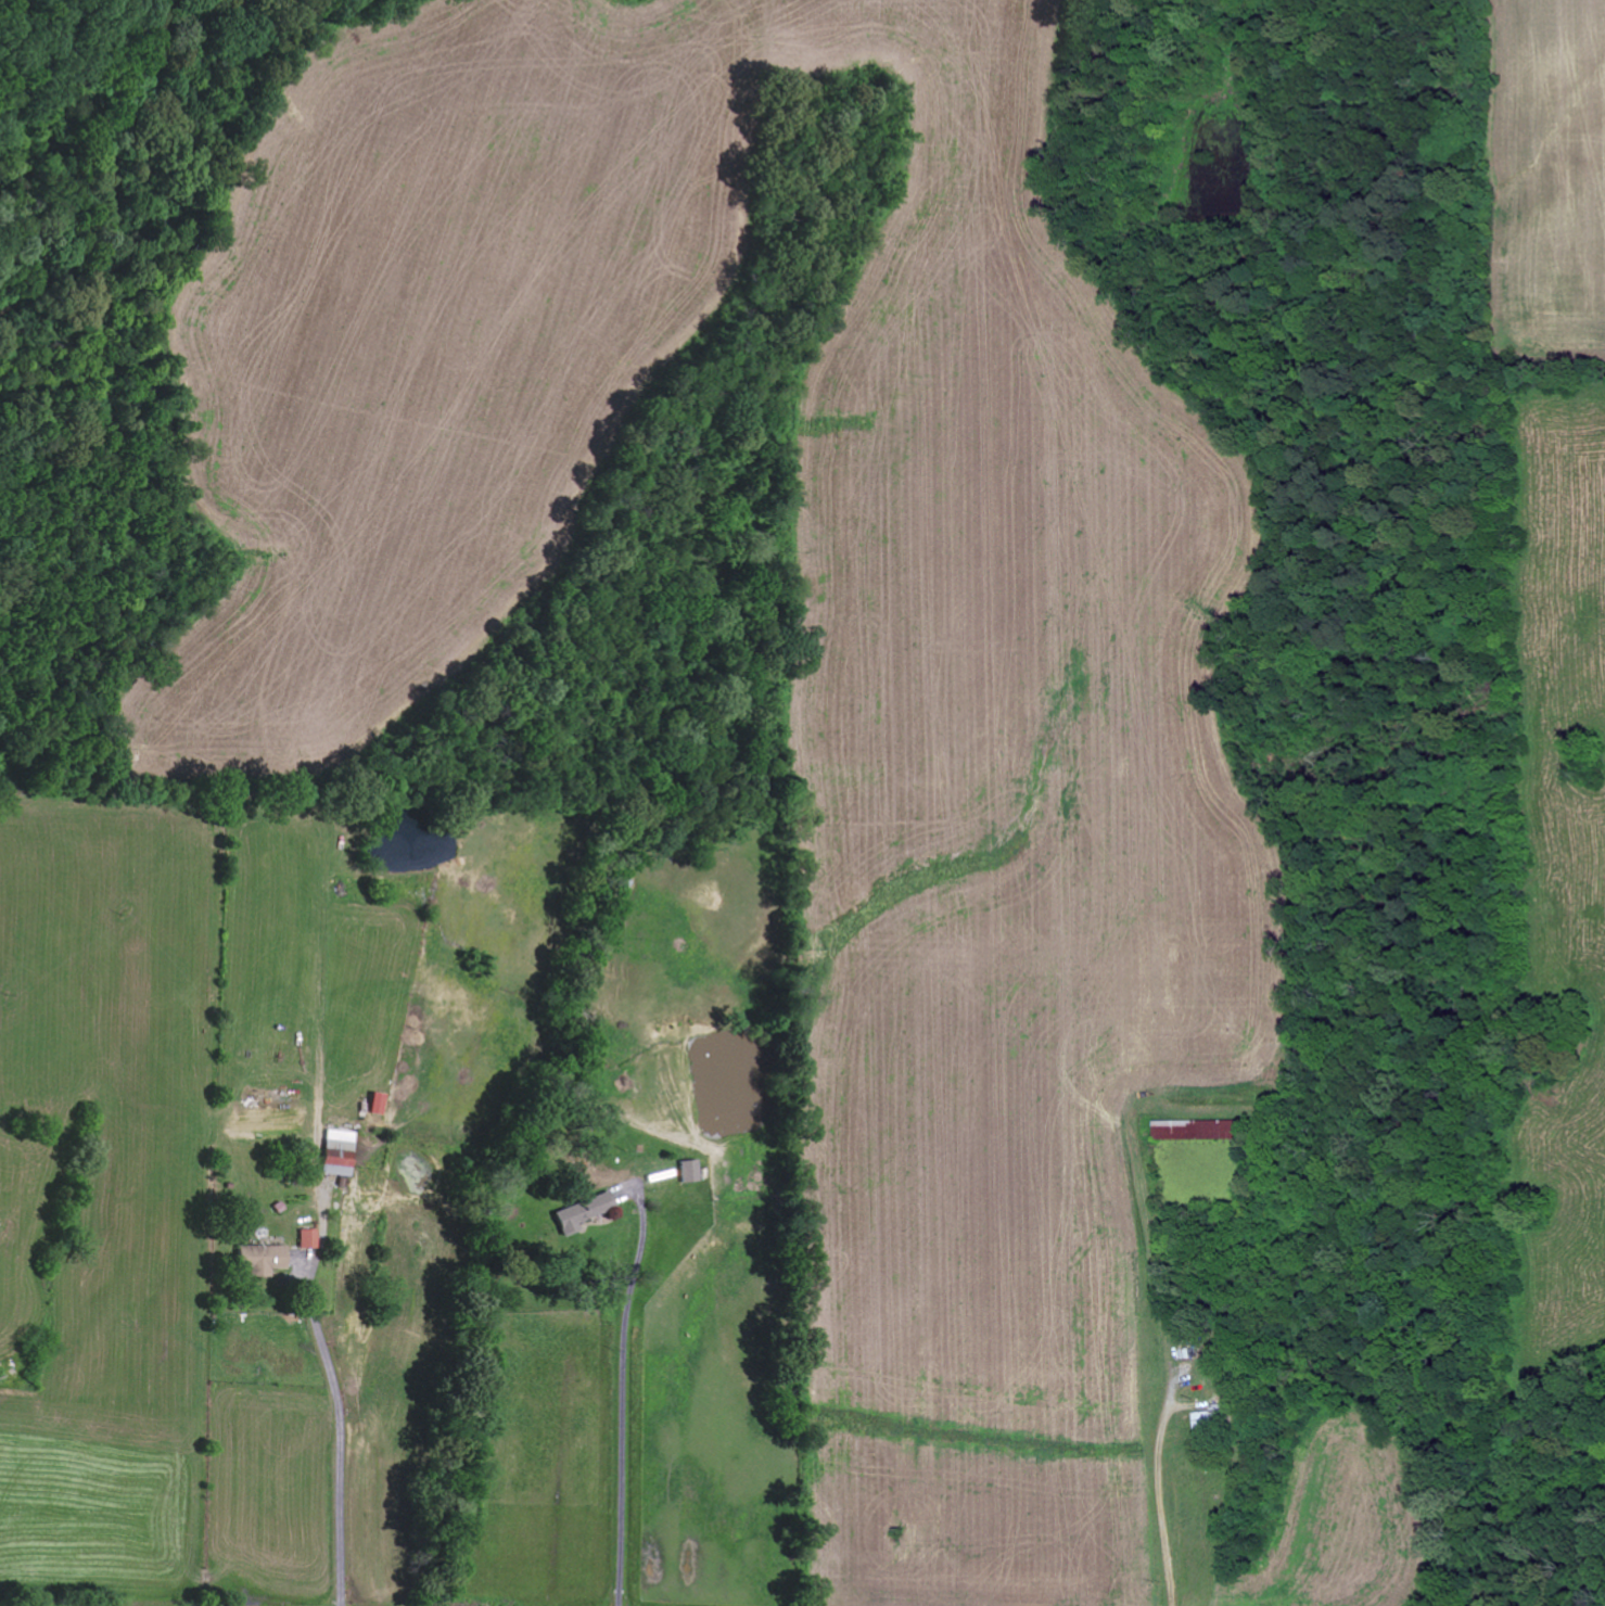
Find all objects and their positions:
building: (1196, 1131)
building: (332, 1152)
building: (685, 1171)
building: (575, 1213)
building: (303, 1239)
building: (255, 1259)
road: (615, 1381)
road: (1170, 1534)

